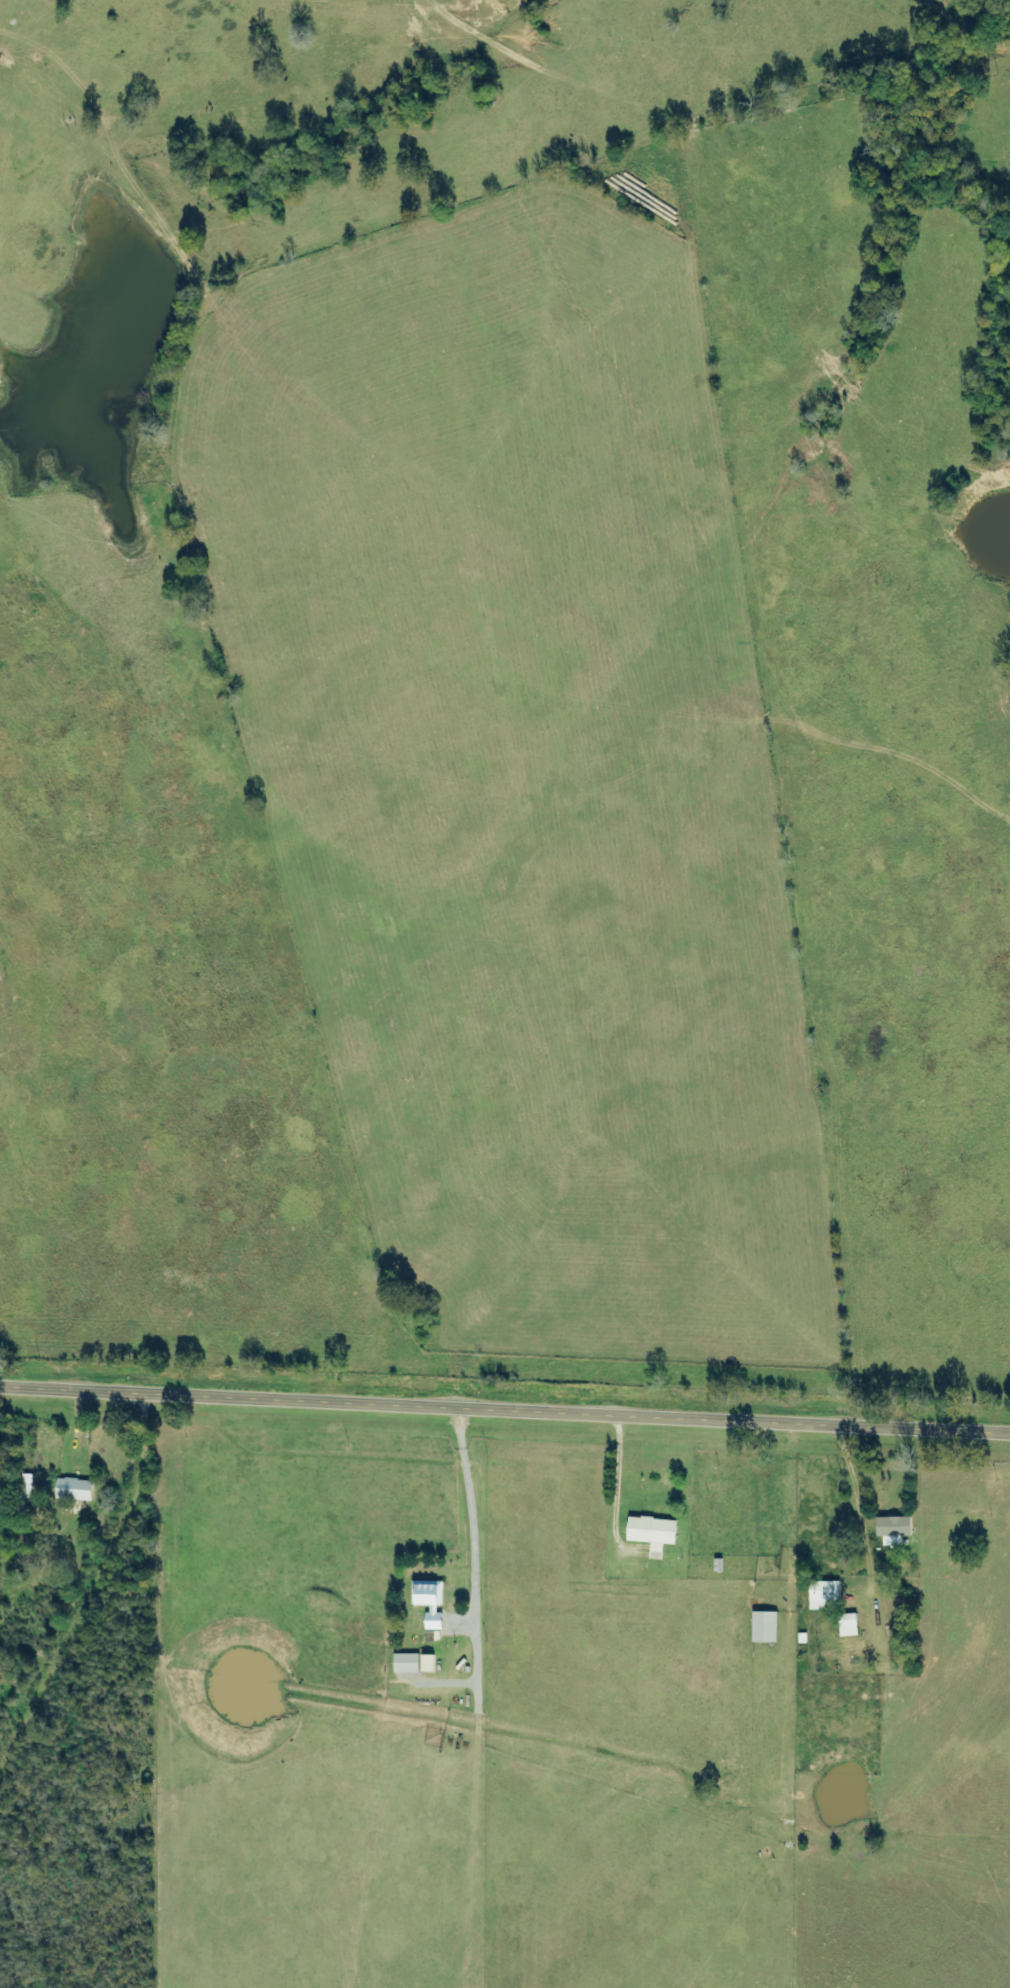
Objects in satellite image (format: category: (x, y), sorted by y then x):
road: (2, 1369)
road: (504, 1394)
building: (78, 1489)
building: (898, 1529)
building: (657, 1533)
building: (829, 1595)
building: (432, 1601)
building: (769, 1626)
building: (410, 1663)
building: (433, 1663)
road: (105, 1679)

